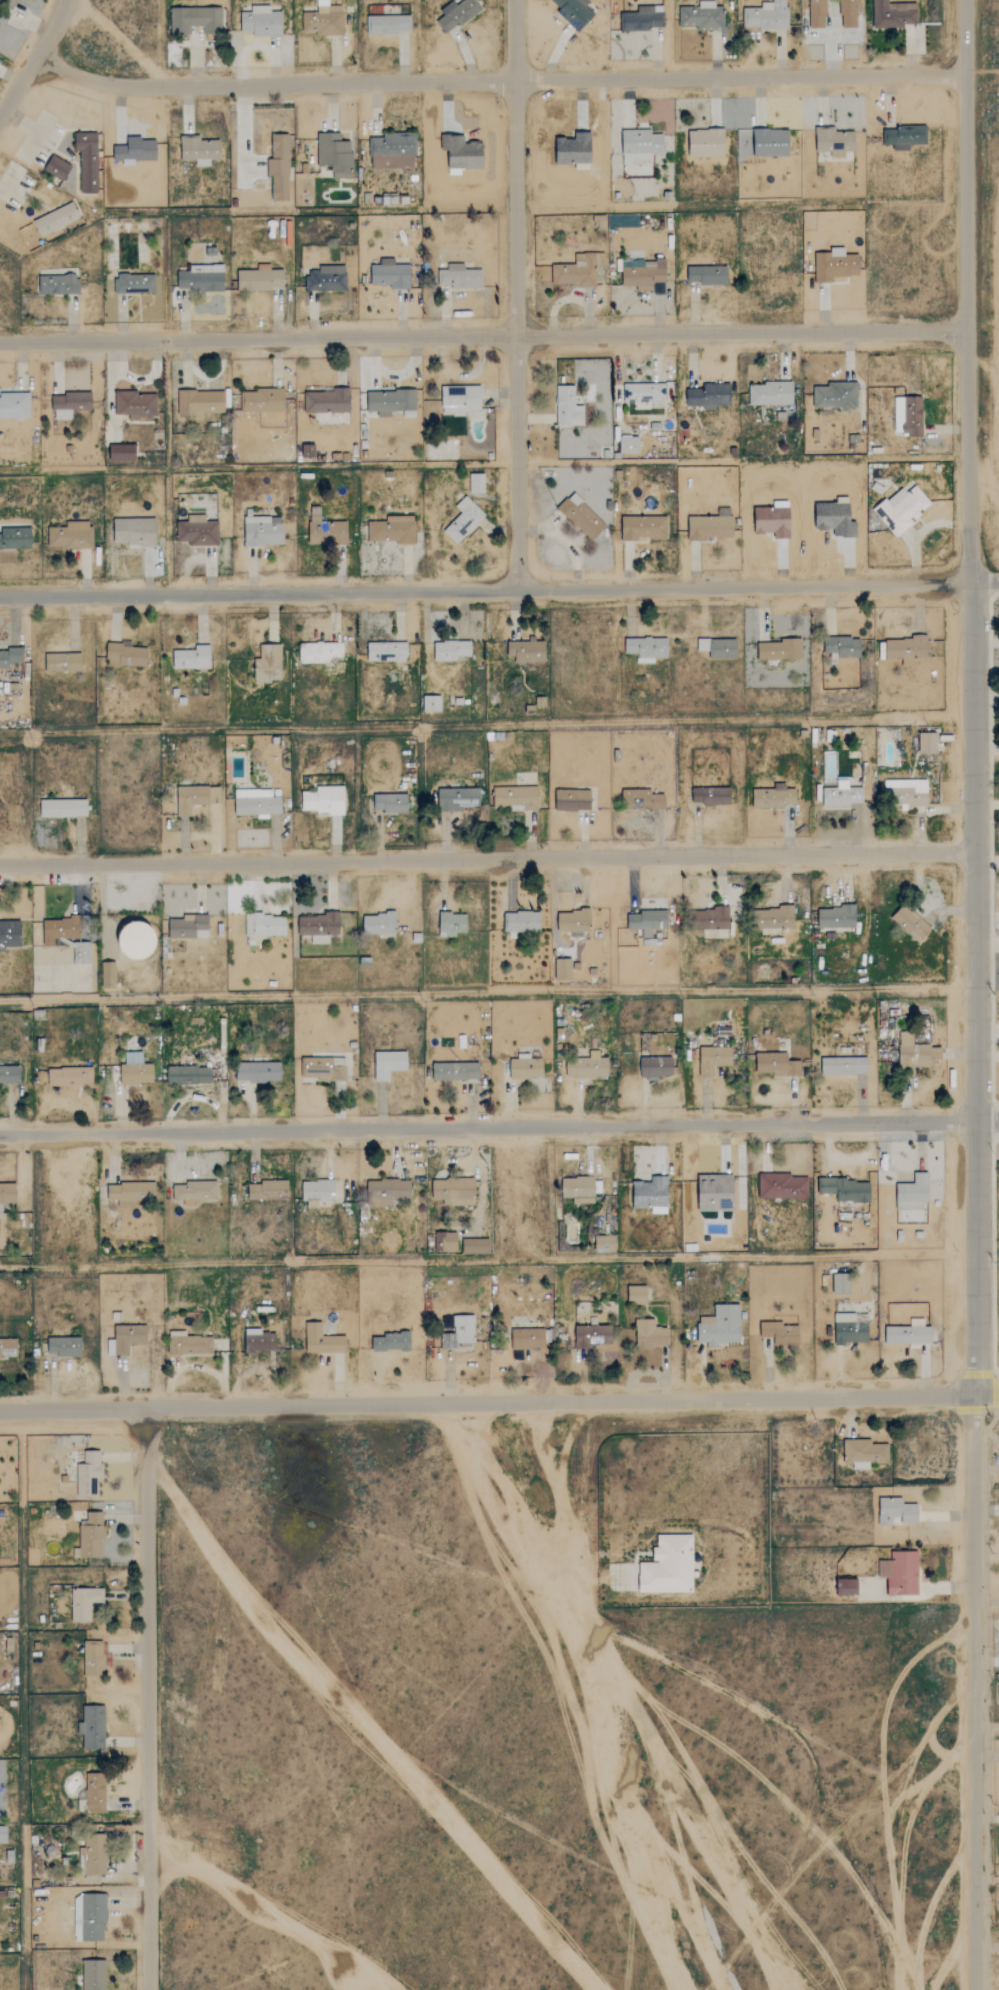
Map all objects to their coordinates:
building: (574, 12)
building: (456, 13)
building: (817, 13)
building: (849, 13)
building: (893, 14)
building: (766, 15)
building: (702, 16)
building: (641, 19)
building: (195, 20)
building: (262, 21)
building: (323, 21)
building: (0, 23)
building: (387, 23)
road: (35, 61)
road: (498, 83)
building: (903, 137)
building: (834, 141)
building: (706, 142)
building: (771, 142)
building: (641, 143)
building: (572, 149)
building: (135, 150)
building: (199, 150)
building: (461, 150)
building: (392, 151)
building: (335, 154)
building: (87, 160)
building: (57, 167)
building: (279, 167)
building: (56, 219)
building: (835, 264)
building: (578, 269)
building: (390, 274)
building: (643, 274)
building: (707, 274)
building: (459, 276)
building: (202, 278)
building: (259, 278)
building: (326, 278)
building: (135, 283)
building: (58, 284)
road: (517, 296)
road: (483, 337)
building: (643, 392)
building: (770, 393)
building: (836, 395)
building: (709, 396)
building: (460, 399)
building: (262, 400)
building: (328, 401)
building: (390, 401)
building: (200, 402)
building: (70, 404)
building: (133, 404)
building: (14, 405)
building: (568, 407)
building: (908, 415)
building: (630, 444)
building: (122, 452)
building: (476, 482)
building: (902, 508)
building: (582, 517)
building: (834, 517)
building: (463, 519)
building: (772, 520)
building: (710, 525)
building: (643, 527)
building: (325, 529)
building: (392, 529)
building: (263, 530)
building: (134, 531)
building: (197, 531)
building: (71, 535)
building: (15, 537)
road: (499, 593)
building: (842, 646)
building: (647, 648)
building: (718, 648)
building: (906, 649)
building: (452, 650)
building: (527, 650)
building: (779, 650)
building: (320, 651)
building: (387, 652)
building: (127, 655)
building: (9, 657)
building: (193, 657)
building: (62, 662)
building: (268, 664)
building: (0, 680)
building: (432, 703)
building: (928, 743)
building: (908, 791)
building: (842, 795)
building: (712, 796)
building: (517, 797)
building: (774, 797)
building: (195, 798)
building: (457, 799)
building: (324, 800)
building: (573, 800)
building: (642, 800)
building: (390, 802)
building: (257, 803)
building: (63, 808)
road: (488, 859)
building: (837, 917)
building: (707, 918)
building: (772, 918)
building: (574, 921)
building: (647, 921)
building: (521, 922)
building: (911, 923)
building: (379, 924)
building: (452, 924)
building: (265, 925)
building: (189, 926)
building: (318, 927)
building: (60, 929)
building: (10, 934)
building: (135, 945)
building: (81, 953)
building: (563, 970)
building: (108, 975)
road: (488, 992)
road: (978, 995)
building: (917, 1052)
building: (714, 1059)
building: (389, 1064)
building: (587, 1065)
building: (777, 1065)
building: (844, 1066)
building: (525, 1067)
building: (655, 1067)
building: (324, 1068)
building: (135, 1070)
building: (456, 1071)
building: (258, 1072)
building: (9, 1074)
building: (188, 1075)
building: (70, 1077)
road: (499, 1126)
building: (521, 1186)
building: (781, 1186)
building: (581, 1188)
building: (845, 1189)
building: (268, 1190)
building: (318, 1190)
building: (453, 1191)
building: (194, 1192)
building: (387, 1192)
building: (7, 1193)
building: (129, 1193)
building: (716, 1193)
building: (913, 1193)
building: (651, 1195)
building: (445, 1242)
building: (605, 1244)
building: (476, 1246)
road: (489, 1261)
building: (841, 1284)
building: (637, 1295)
building: (721, 1326)
building: (464, 1329)
building: (850, 1329)
building: (780, 1333)
building: (650, 1334)
building: (593, 1335)
building: (908, 1335)
building: (126, 1338)
building: (527, 1339)
building: (322, 1340)
building: (259, 1341)
building: (391, 1342)
building: (189, 1344)
building: (64, 1346)
building: (8, 1348)
road: (499, 1402)
building: (865, 1452)
building: (88, 1473)
building: (897, 1511)
road: (562, 1518)
building: (91, 1535)
building: (668, 1565)
building: (848, 1587)
building: (84, 1602)
building: (96, 1658)
road: (147, 1699)
building: (92, 1726)
building: (95, 1792)
building: (3, 1834)
building: (95, 1854)
building: (89, 1916)
building: (94, 1975)

